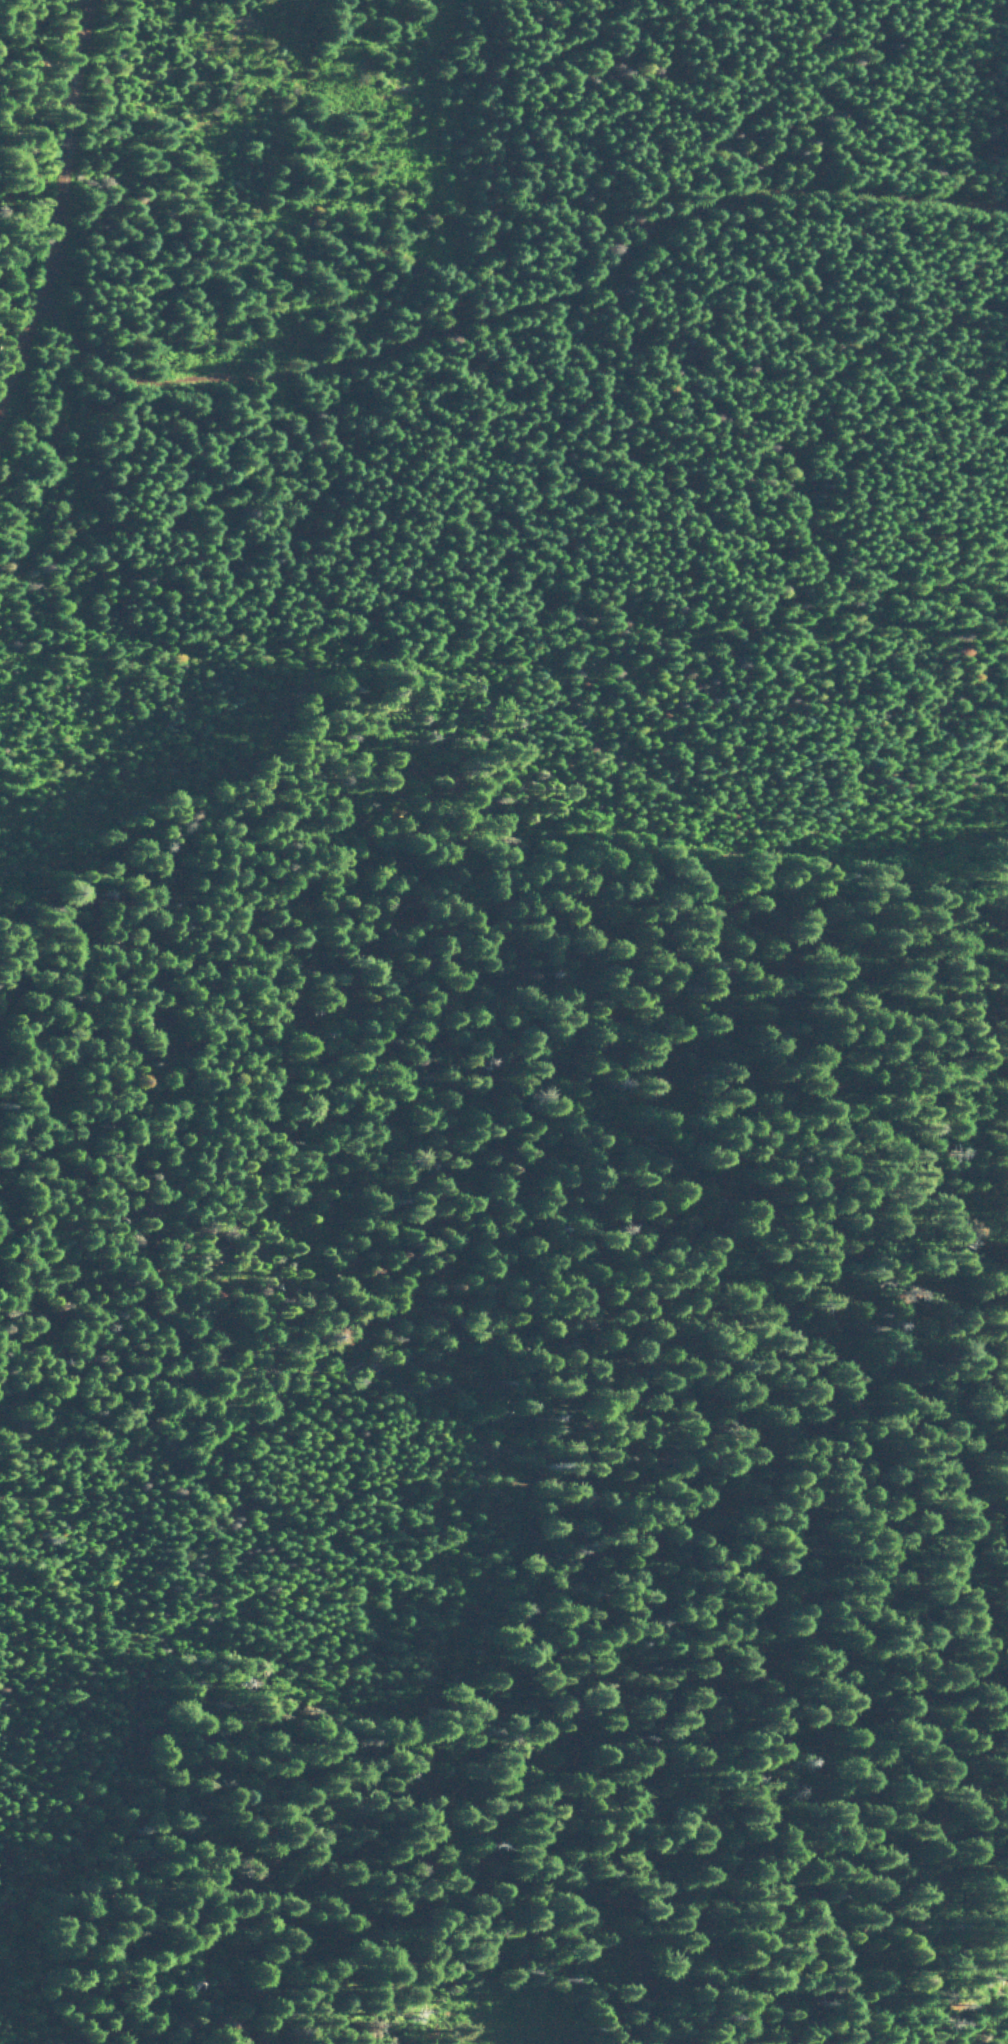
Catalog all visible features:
road: (53, 201)

